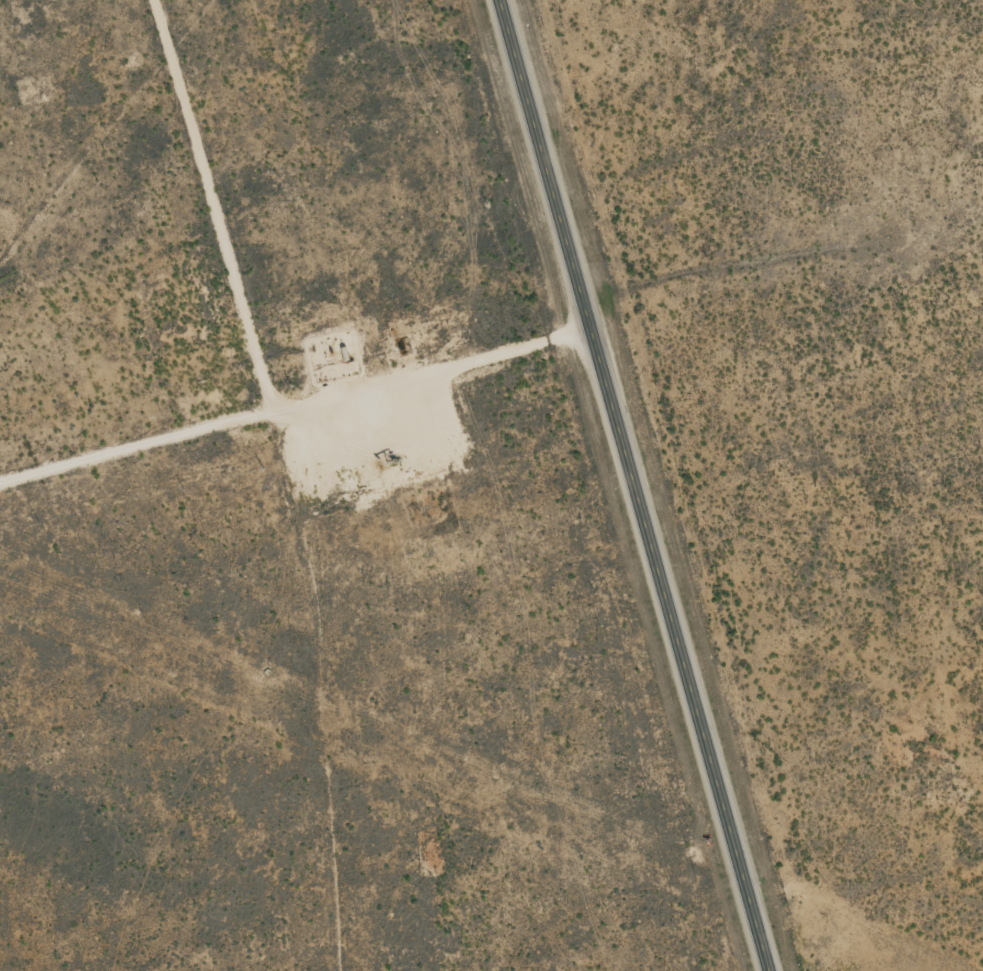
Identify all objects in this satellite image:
road: (637, 485)

